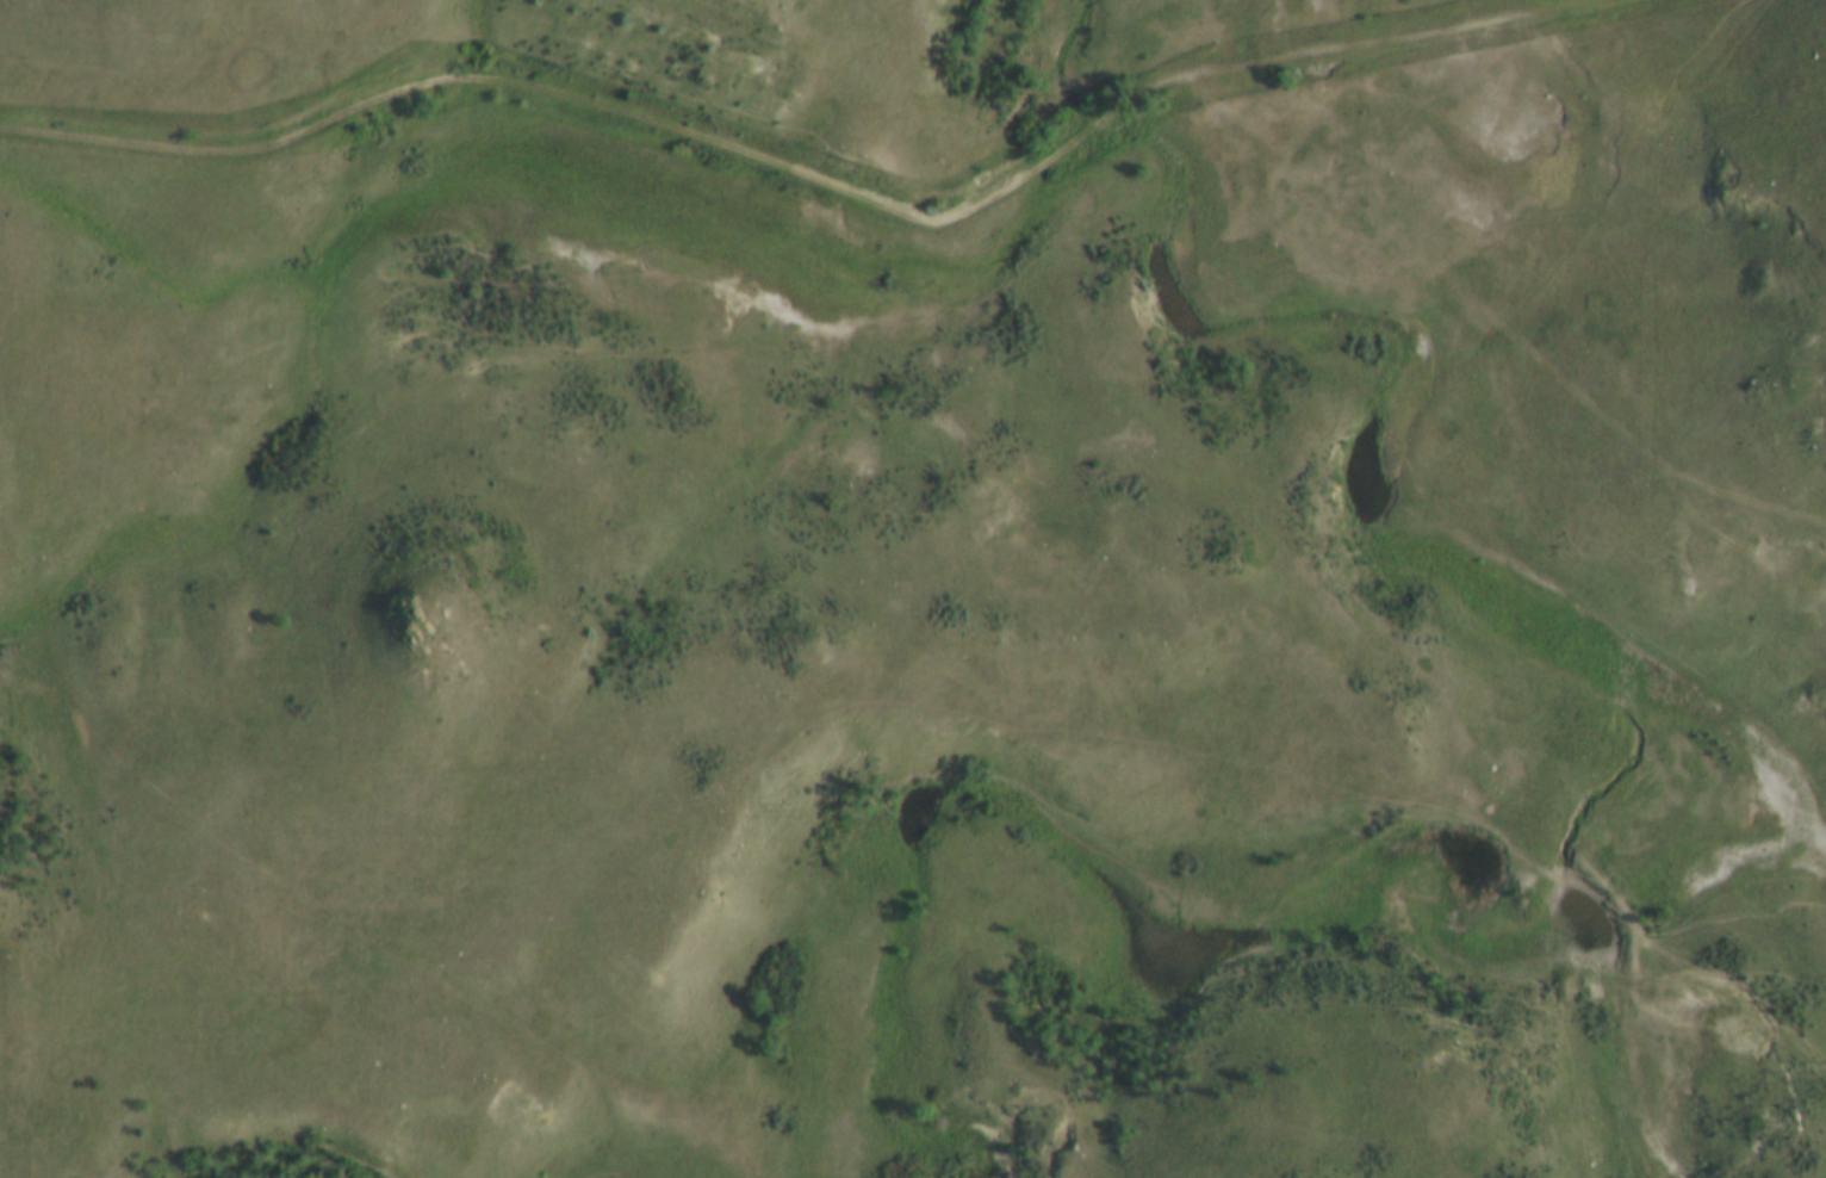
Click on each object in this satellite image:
road: (816, 179)

